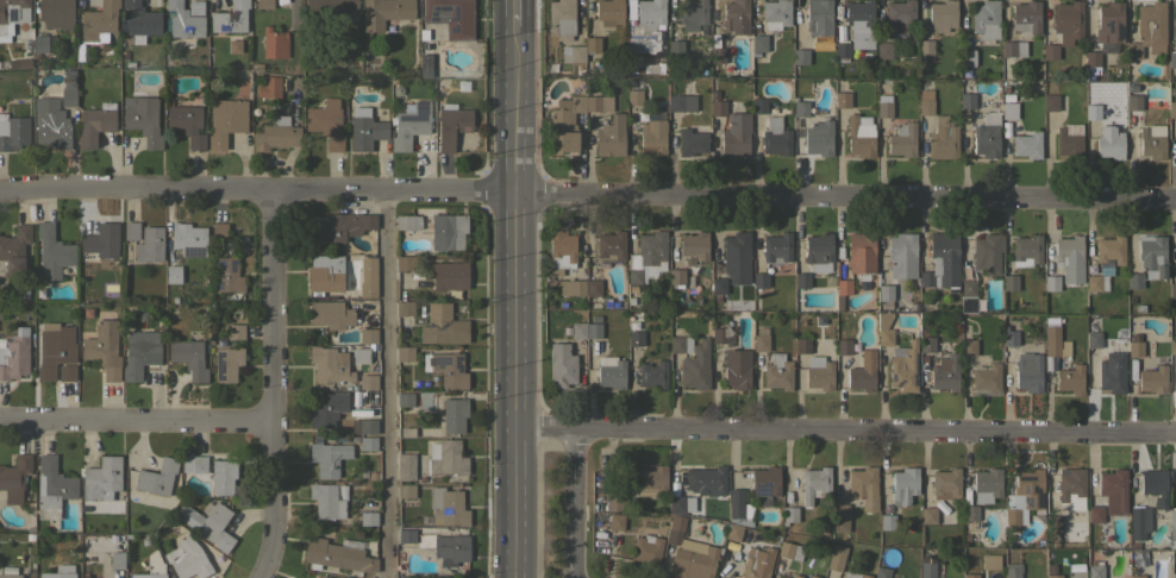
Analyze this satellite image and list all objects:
building: (264, 4)
building: (195, 7)
building: (326, 10)
building: (384, 12)
building: (608, 12)
building: (56, 13)
building: (692, 13)
building: (775, 14)
building: (10, 15)
rooftop solar panel: (11, 15)
building: (942, 15)
building: (450, 17)
building: (736, 17)
building: (899, 17)
building: (230, 18)
building: (1025, 18)
building: (561, 19)
building: (986, 19)
building: (99, 20)
building: (139, 20)
building: (1068, 20)
building: (183, 21)
building: (819, 23)
building: (859, 23)
building: (1109, 23)
rooftop solar panel: (1111, 26)
building: (1149, 30)
rooftop solar panel: (1120, 31)
building: (633, 37)
building: (274, 43)
building: (758, 43)
building: (39, 44)
building: (592, 44)
building: (1106, 46)
building: (675, 49)
building: (924, 49)
building: (1013, 49)
building: (842, 51)
building: (883, 51)
building: (1050, 51)
building: (573, 54)
building: (717, 55)
building: (800, 56)
building: (967, 57)
building: (1091, 58)
building: (1171, 58)
building: (24, 63)
building: (269, 87)
building: (68, 96)
building: (633, 96)
building: (842, 99)
building: (967, 100)
building: (681, 102)
building: (925, 102)
building: (1050, 102)
building: (1133, 102)
building: (758, 105)
building: (717, 106)
building: (799, 107)
building: (883, 109)
building: (1171, 109)
building: (1008, 111)
building: (1091, 112)
building: (142, 119)
building: (225, 120)
building: (571, 121)
building: (186, 122)
building: (326, 122)
building: (50, 124)
building: (95, 124)
building: (409, 124)
building: (451, 125)
building: (364, 128)
building: (13, 132)
building: (651, 133)
building: (275, 134)
building: (736, 134)
building: (859, 136)
building: (987, 136)
building: (611, 137)
building: (775, 137)
building: (818, 138)
building: (902, 139)
building: (943, 139)
building: (1069, 140)
building: (692, 142)
building: (1108, 143)
building: (1026, 145)
building: (1151, 145)
road: (587, 190)
building: (407, 221)
building: (340, 226)
building: (131, 231)
building: (218, 231)
building: (446, 231)
building: (188, 239)
building: (100, 244)
building: (149, 244)
building: (609, 246)
building: (693, 247)
building: (776, 247)
building: (818, 249)
building: (1111, 249)
building: (14, 250)
building: (1025, 250)
rooftop solar panel: (194, 251)
building: (51, 252)
building: (559, 252)
building: (859, 252)
building: (986, 253)
building: (645, 255)
building: (901, 255)
building: (1151, 256)
building: (1069, 258)
building: (736, 259)
building: (404, 263)
building: (940, 263)
rooftop solar panel: (219, 265)
rooftop solar panel: (230, 265)
rooftop solar panel: (1106, 272)
building: (173, 274)
building: (325, 274)
building: (227, 275)
building: (449, 276)
building: (368, 277)
building: (676, 277)
building: (759, 279)
building: (801, 279)
building: (1134, 279)
building: (1009, 282)
building: (1051, 283)
building: (1093, 283)
rooftop solar panel: (224, 284)
building: (718, 285)
building: (570, 287)
building: (843, 287)
building: (593, 288)
road: (512, 289)
building: (1171, 289)
building: (884, 295)
building: (968, 296)
building: (405, 308)
building: (330, 314)
building: (443, 326)
building: (883, 328)
building: (578, 329)
building: (234, 331)
building: (593, 331)
building: (718, 334)
building: (367, 335)
building: (1172, 337)
building: (634, 338)
building: (1009, 338)
building: (759, 339)
building: (1093, 339)
building: (1051, 340)
building: (926, 341)
building: (680, 344)
building: (801, 345)
building: (843, 346)
building: (968, 347)
building: (54, 348)
building: (102, 348)
building: (1134, 348)
building: (139, 353)
building: (404, 353)
building: (14, 354)
building: (361, 354)
building: (188, 358)
building: (226, 364)
building: (329, 365)
building: (561, 365)
rooftop solar panel: (219, 366)
building: (695, 366)
building: (903, 366)
building: (737, 367)
building: (446, 369)
building: (609, 371)
building: (777, 371)
building: (67, 372)
building: (819, 372)
building: (862, 372)
building: (1028, 372)
building: (1112, 372)
building: (944, 373)
building: (652, 375)
building: (986, 377)
building: (1152, 379)
building: (1069, 381)
building: (368, 382)
road: (277, 383)
road: (387, 383)
building: (426, 397)
building: (405, 398)
building: (323, 410)
building: (453, 414)
road: (138, 421)
building: (365, 426)
road: (844, 431)
building: (365, 441)
building: (327, 458)
building: (445, 458)
building: (405, 466)
building: (213, 472)
building: (101, 477)
building: (156, 477)
building: (14, 478)
building: (652, 480)
building: (706, 480)
building: (765, 480)
building: (945, 483)
building: (1070, 483)
building: (52, 484)
building: (814, 484)
building: (903, 485)
building: (986, 485)
building: (863, 486)
building: (1155, 486)
building: (406, 490)
rooftop solar panel: (763, 490)
building: (1113, 490)
building: (327, 498)
building: (1024, 498)
road: (583, 503)
building: (614, 503)
building: (677, 504)
building: (448, 505)
building: (736, 508)
building: (969, 513)
building: (789, 514)
building: (1095, 514)
building: (928, 515)
building: (839, 516)
building: (365, 517)
building: (615, 521)
building: (887, 521)
building: (207, 522)
building: (1138, 522)
building: (1174, 524)
building: (1052, 526)
building: (733, 530)
building: (406, 535)
building: (451, 548)
building: (648, 549)
building: (789, 551)
building: (689, 553)
building: (336, 555)
building: (187, 558)
building: (836, 558)
building: (117, 560)
building: (989, 561)
building: (152, 567)
building: (753, 567)
building: (926, 568)
building: (1012, 570)
building: (1095, 571)
building: (60, 572)
building: (881, 572)
building: (855, 574)
building: (1174, 574)
building: (10, 576)
building: (795, 576)
building: (970, 576)
building: (1053, 576)
building: (1137, 576)
building: (317, 577)
building: (325, 577)
building: (813, 577)

